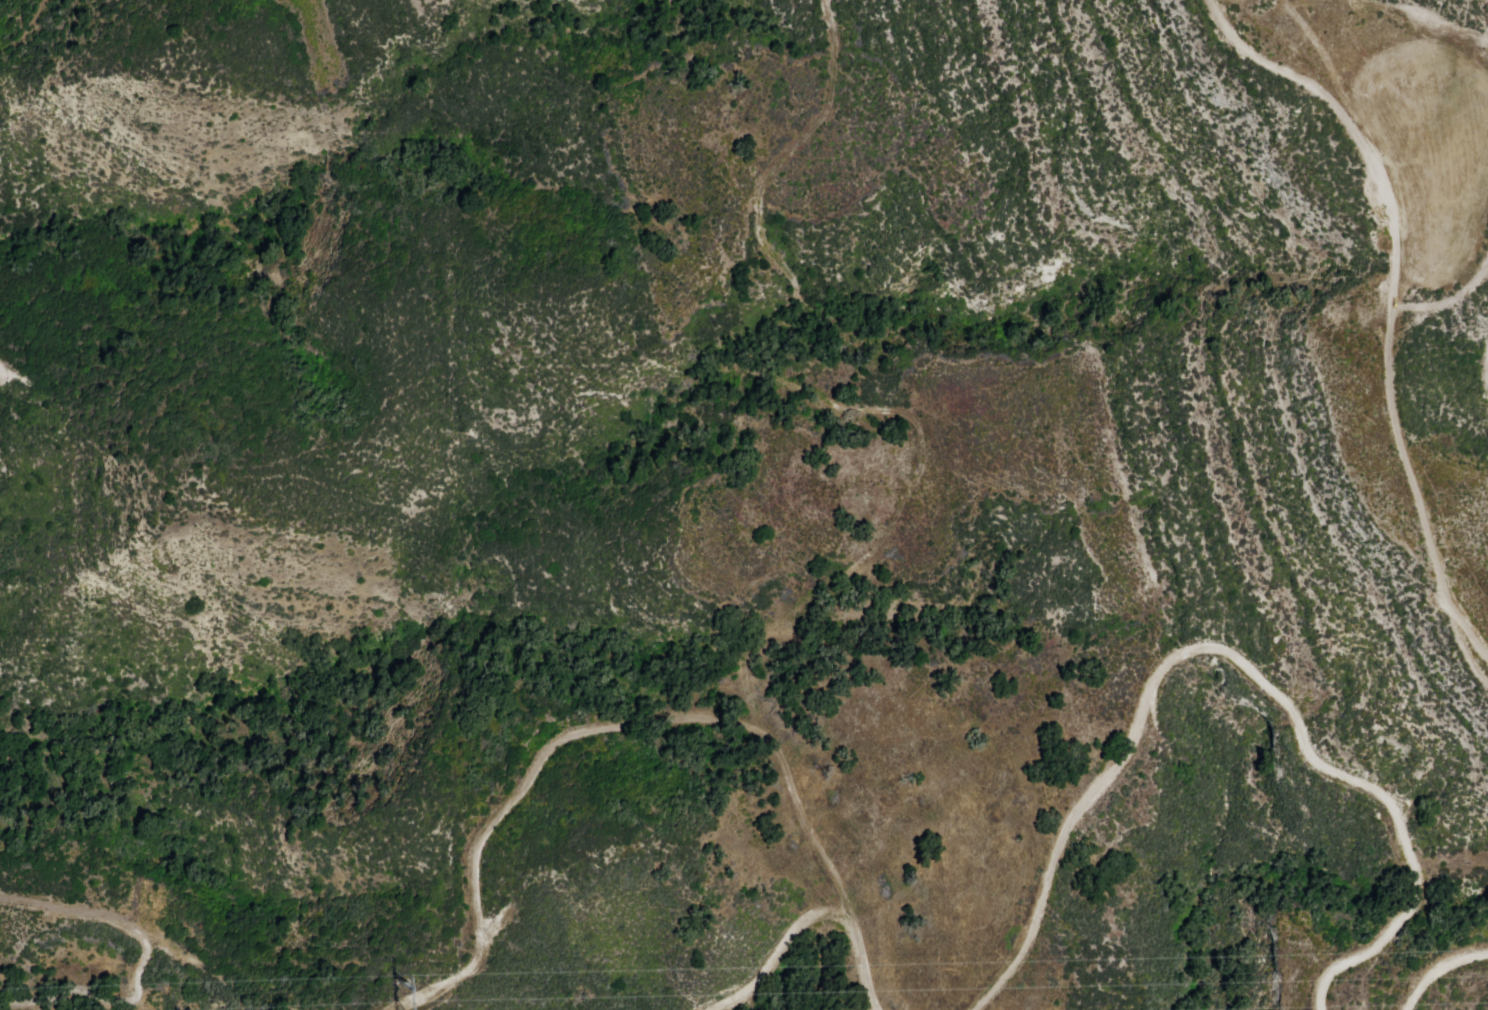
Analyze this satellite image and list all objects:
road: (1373, 318)
road: (1234, 657)
road: (675, 719)
road: (150, 949)
road: (764, 949)
road: (1436, 970)
power tower: (397, 992)

